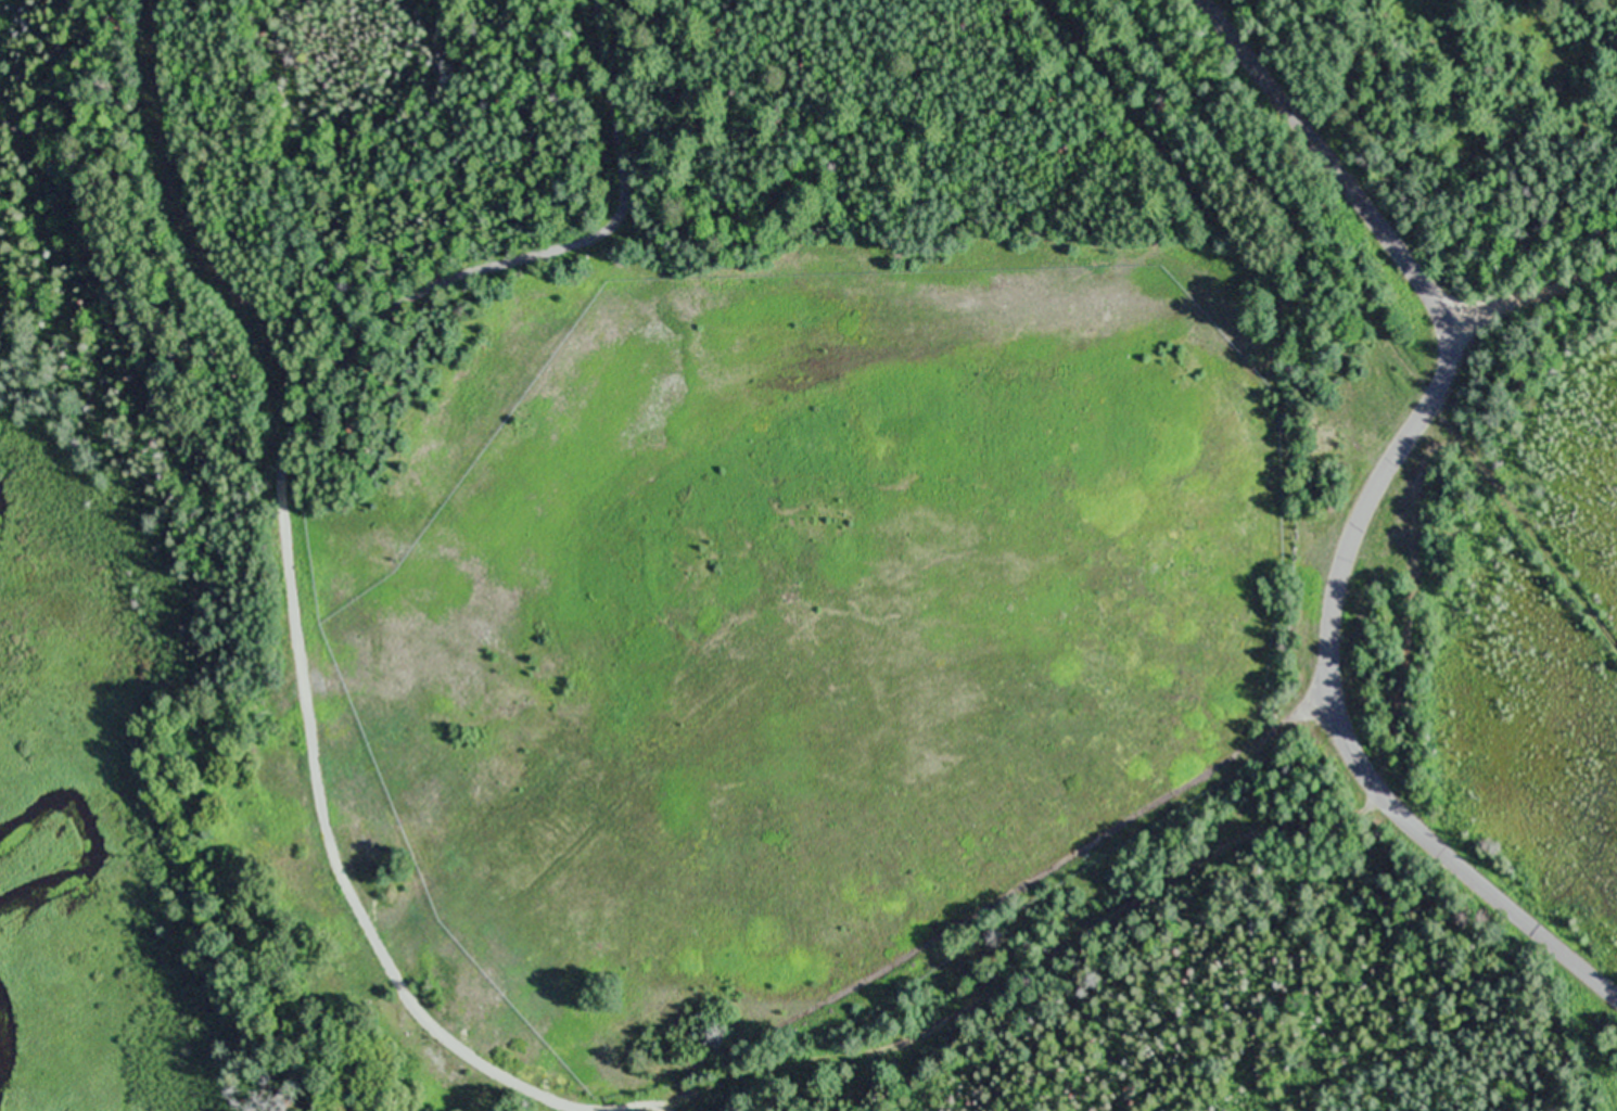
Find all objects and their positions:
road: (1370, 508)
road: (280, 550)
road: (994, 903)
road: (657, 1103)

